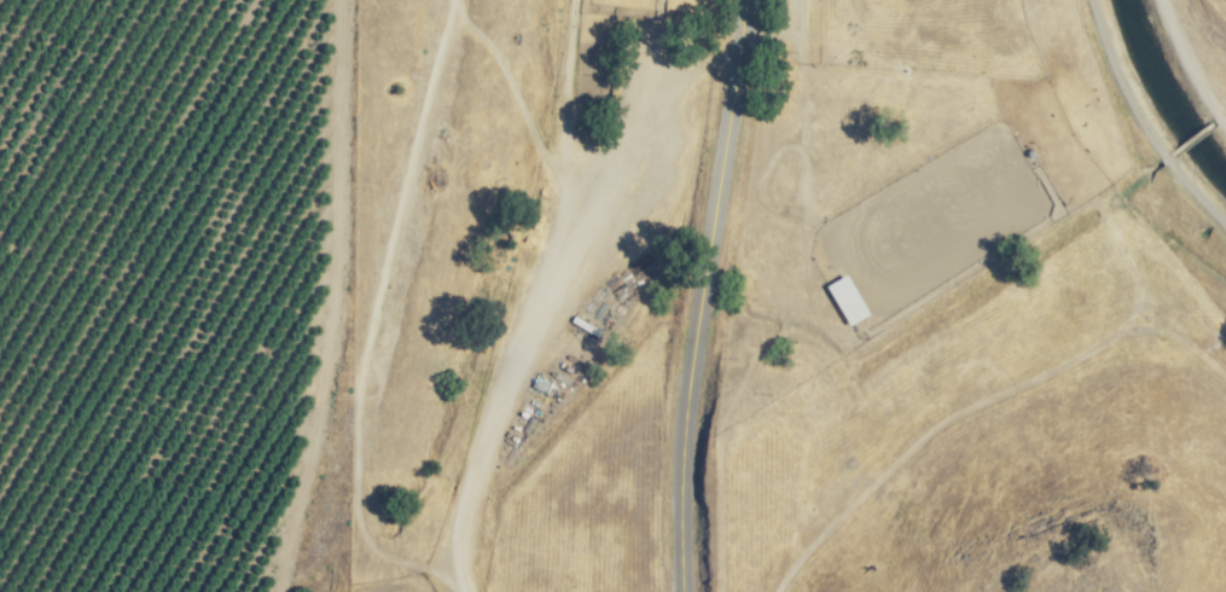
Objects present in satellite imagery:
road: (1114, 158)
road: (540, 289)
road: (703, 295)
building: (844, 297)
road: (298, 570)

